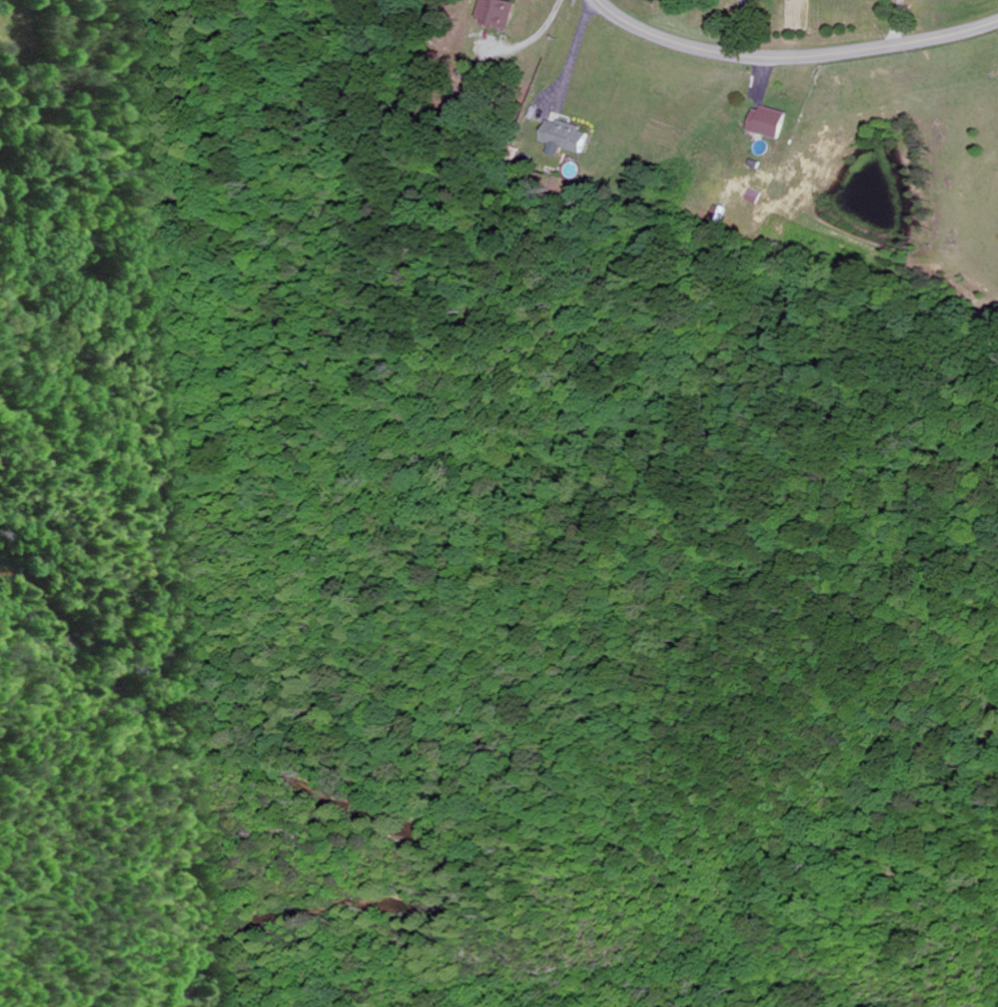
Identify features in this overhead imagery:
building: (497, 13)
road: (900, 23)
road: (536, 38)
road: (583, 50)
road: (793, 60)
building: (767, 122)
building: (565, 137)

